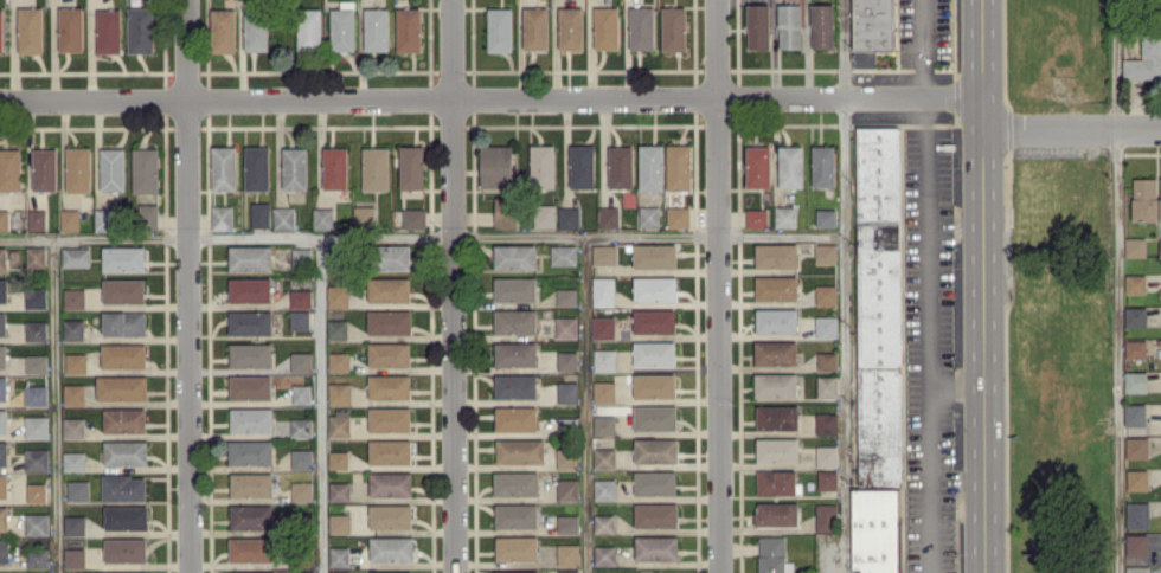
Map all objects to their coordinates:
building: (789, 25)
building: (821, 25)
building: (342, 26)
building: (758, 26)
building: (534, 27)
building: (570, 27)
building: (605, 27)
building: (641, 27)
building: (70, 28)
building: (140, 28)
building: (309, 28)
building: (376, 28)
building: (499, 28)
building: (673, 28)
building: (30, 30)
building: (223, 30)
building: (256, 30)
building: (408, 30)
building: (871, 30)
building: (1, 31)
building: (108, 31)
road: (917, 50)
building: (1144, 60)
road: (490, 102)
road: (1071, 133)
building: (822, 165)
building: (411, 166)
building: (495, 166)
building: (541, 166)
building: (580, 166)
building: (757, 166)
building: (790, 166)
building: (223, 167)
building: (256, 167)
building: (334, 167)
building: (374, 167)
building: (620, 167)
building: (650, 167)
building: (679, 167)
building: (9, 168)
building: (78, 168)
building: (113, 168)
building: (294, 168)
building: (44, 169)
building: (145, 169)
building: (1144, 199)
building: (1160, 200)
building: (506, 211)
building: (259, 214)
building: (364, 214)
building: (543, 214)
building: (147, 215)
building: (608, 215)
building: (648, 215)
building: (676, 215)
building: (784, 215)
road: (1073, 215)
building: (222, 217)
building: (283, 217)
building: (413, 217)
building: (567, 217)
building: (756, 217)
building: (826, 217)
building: (322, 218)
building: (4, 219)
building: (36, 219)
building: (69, 219)
building: (105, 219)
road: (359, 243)
road: (782, 244)
building: (1135, 246)
building: (1160, 247)
building: (301, 253)
building: (604, 253)
building: (825, 253)
building: (563, 255)
building: (654, 255)
building: (775, 255)
building: (34, 256)
building: (75, 256)
building: (514, 256)
building: (249, 257)
building: (393, 257)
building: (2, 258)
building: (123, 258)
building: (1135, 283)
road: (453, 285)
road: (719, 285)
road: (846, 285)
road: (982, 285)
road: (187, 286)
road: (1120, 286)
building: (654, 288)
building: (776, 288)
building: (250, 289)
building: (389, 289)
building: (514, 289)
building: (4, 290)
building: (123, 290)
building: (603, 291)
building: (825, 294)
building: (336, 296)
building: (566, 296)
building: (34, 297)
building: (73, 297)
building: (300, 297)
building: (879, 305)
building: (1134, 316)
building: (299, 318)
building: (776, 320)
building: (389, 321)
building: (514, 321)
building: (653, 321)
building: (123, 322)
building: (249, 322)
building: (2, 323)
building: (826, 326)
building: (565, 327)
building: (603, 327)
building: (336, 328)
building: (72, 329)
building: (36, 330)
road: (929, 335)
building: (1135, 348)
building: (775, 352)
building: (515, 353)
building: (654, 353)
building: (123, 354)
building: (250, 354)
building: (389, 354)
building: (2, 355)
building: (604, 359)
building: (566, 360)
building: (826, 360)
building: (301, 361)
building: (338, 361)
building: (75, 362)
building: (36, 363)
road: (956, 381)
building: (1135, 381)
building: (654, 385)
building: (775, 385)
building: (826, 385)
building: (389, 386)
building: (515, 386)
building: (2, 387)
building: (121, 387)
building: (250, 387)
building: (603, 391)
building: (566, 392)
building: (301, 393)
building: (339, 393)
building: (36, 394)
building: (73, 394)
road: (319, 407)
road: (586, 407)
road: (52, 408)
building: (1134, 414)
building: (654, 417)
building: (776, 417)
building: (515, 418)
building: (124, 419)
building: (250, 419)
building: (389, 419)
building: (2, 420)
building: (826, 423)
building: (603, 424)
building: (339, 425)
building: (36, 426)
building: (300, 426)
building: (73, 427)
building: (1136, 446)
building: (655, 450)
building: (776, 450)
building: (249, 451)
building: (390, 451)
building: (519, 451)
building: (4, 452)
building: (124, 452)
building: (826, 456)
building: (565, 457)
building: (603, 457)
building: (301, 458)
building: (36, 459)
building: (338, 459)
building: (73, 461)
building: (827, 478)
building: (1136, 479)
building: (654, 482)
building: (776, 482)
building: (390, 483)
building: (515, 483)
building: (250, 484)
building: (2, 485)
building: (123, 488)
building: (566, 489)
building: (604, 489)
building: (77, 490)
building: (301, 490)
building: (339, 490)
building: (36, 492)
road: (957, 497)
building: (776, 513)
building: (655, 514)
building: (1136, 514)
building: (515, 515)
building: (126, 516)
building: (251, 516)
building: (390, 516)
building: (826, 516)
building: (4, 517)
building: (603, 522)
building: (36, 523)
building: (339, 523)
building: (567, 523)
building: (73, 524)
building: (875, 530)
building: (1136, 543)
building: (515, 547)
building: (656, 547)
building: (391, 548)
building: (4, 549)
building: (124, 549)
building: (249, 549)
building: (566, 554)
building: (604, 554)
building: (339, 555)
building: (772, 555)
building: (37, 556)
building: (73, 556)
building: (1136, 568)
building: (302, 571)
building: (567, 571)
building: (37, 572)
building: (108, 572)
building: (254, 572)
building: (339, 572)
building: (390, 572)
building: (515, 572)

